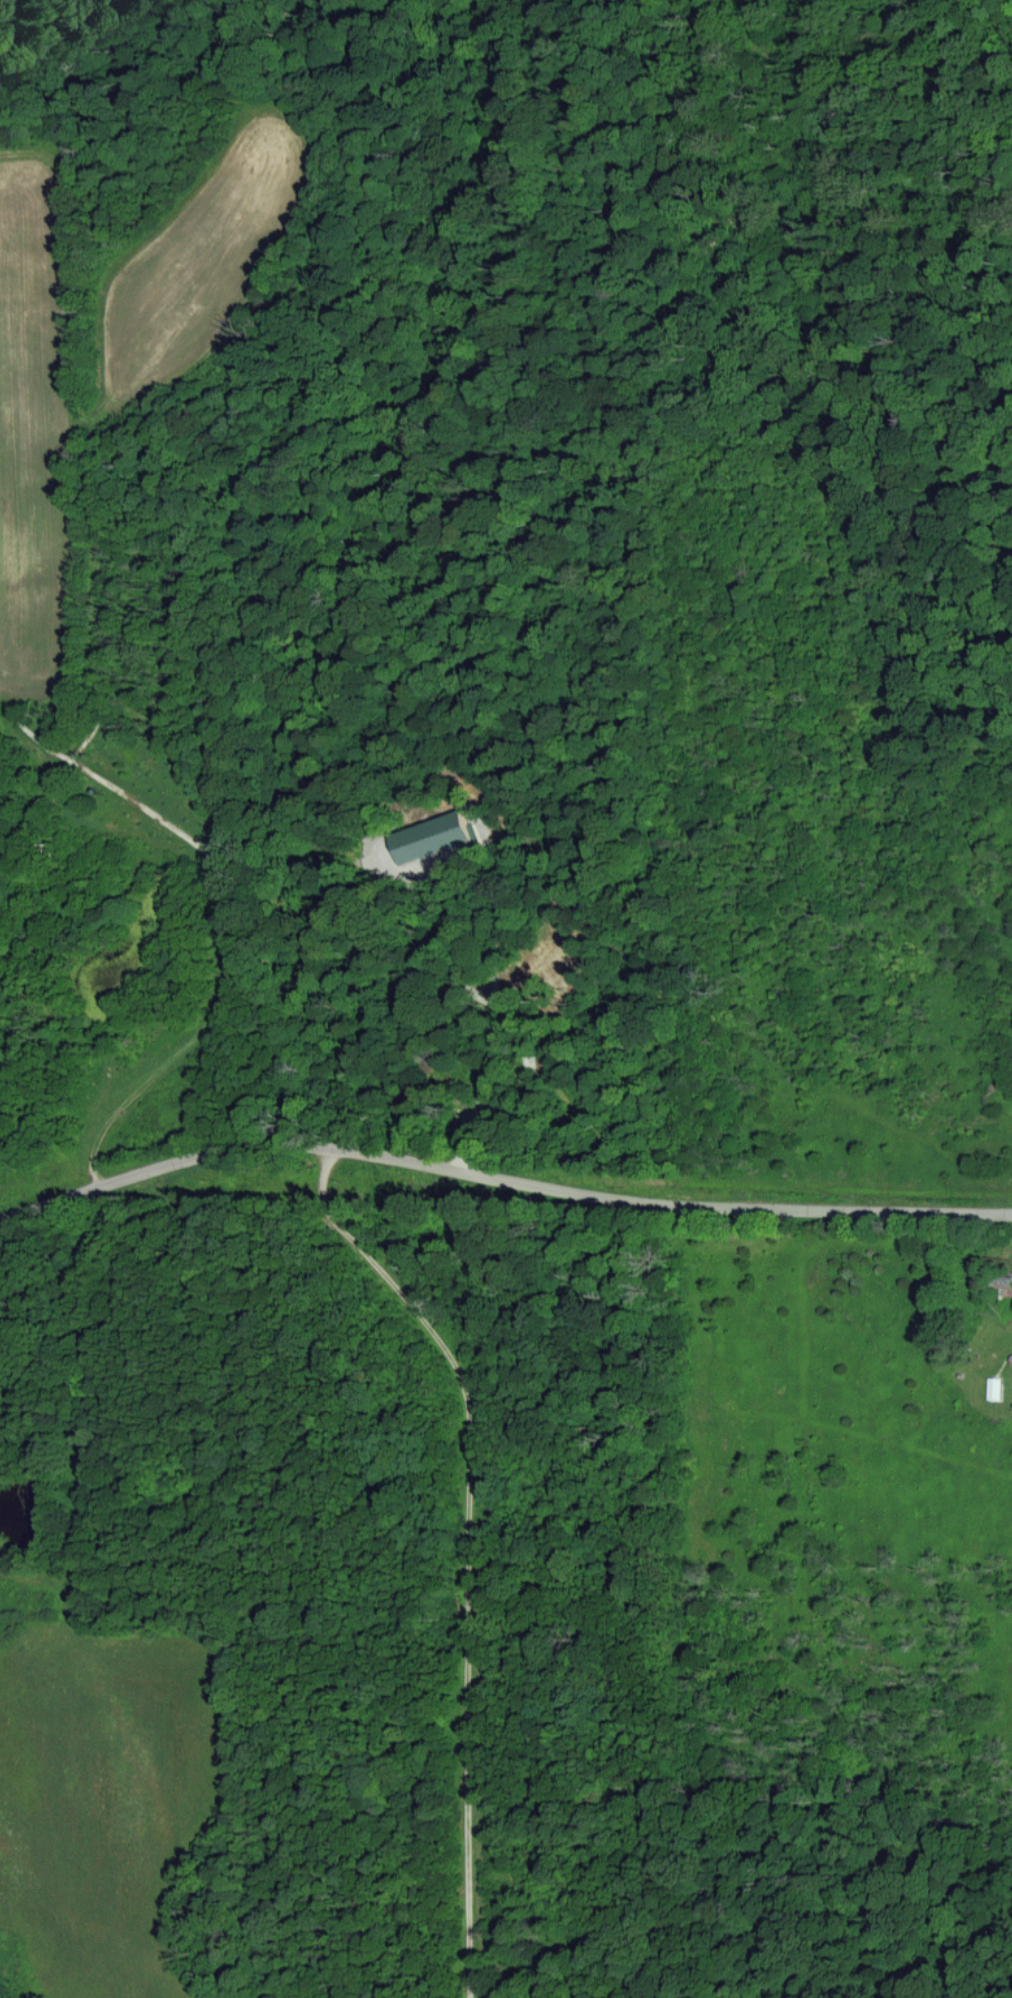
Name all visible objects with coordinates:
road: (499, 1177)

